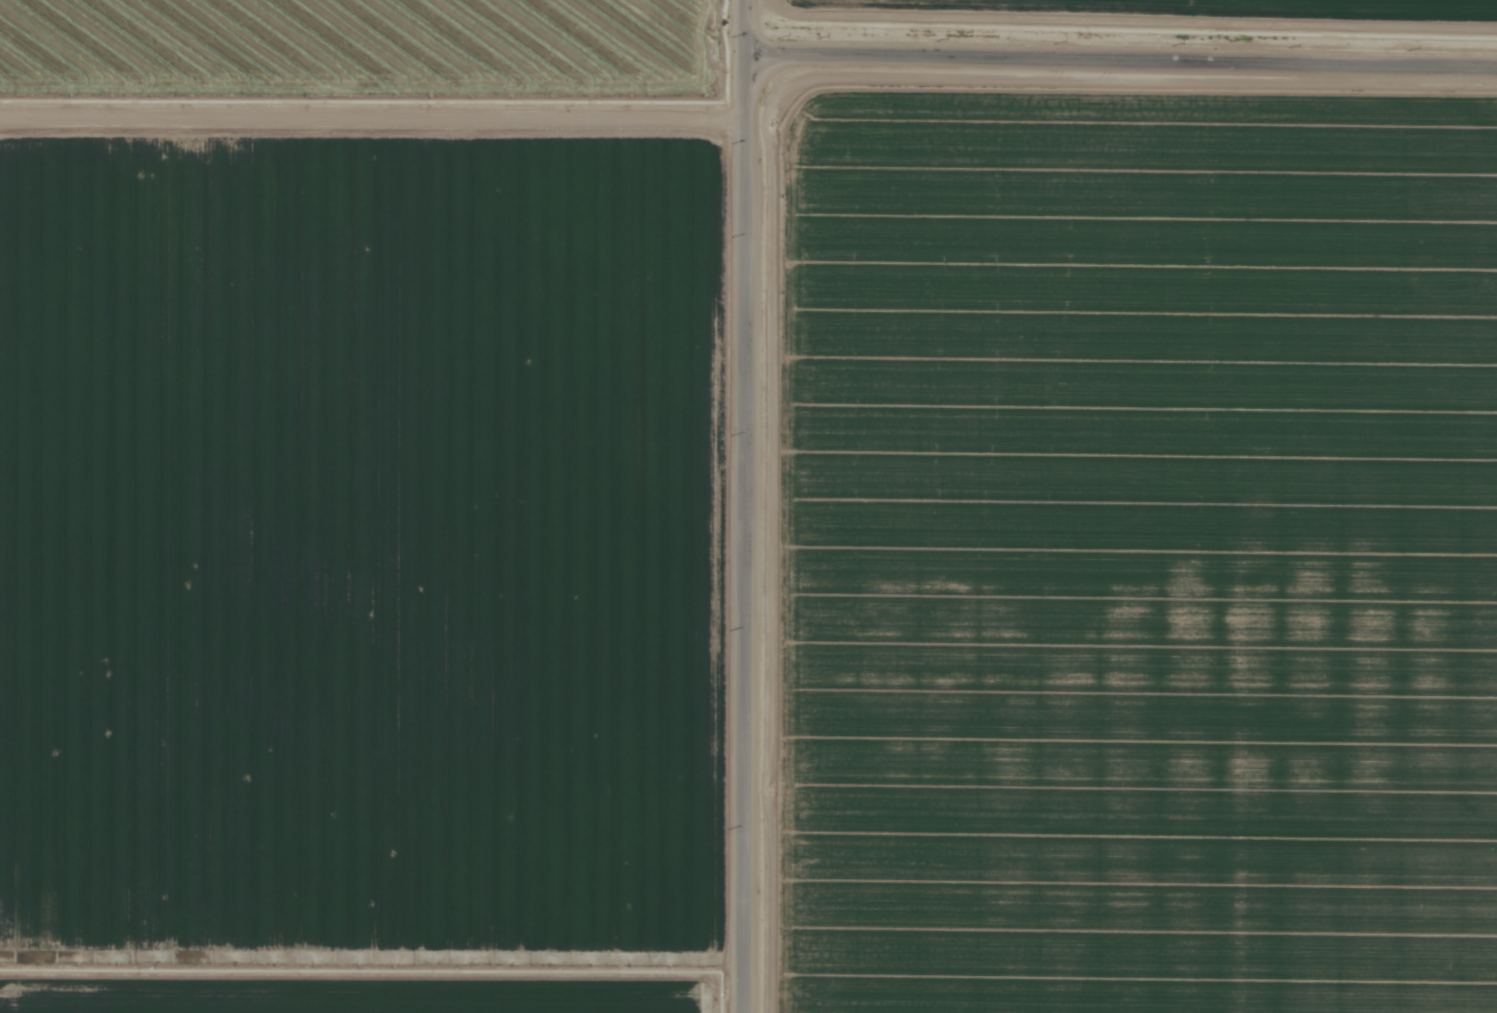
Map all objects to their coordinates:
crop: (1192, 8)
crop: (365, 48)
road: (1125, 55)
road: (375, 125)
road: (751, 506)

